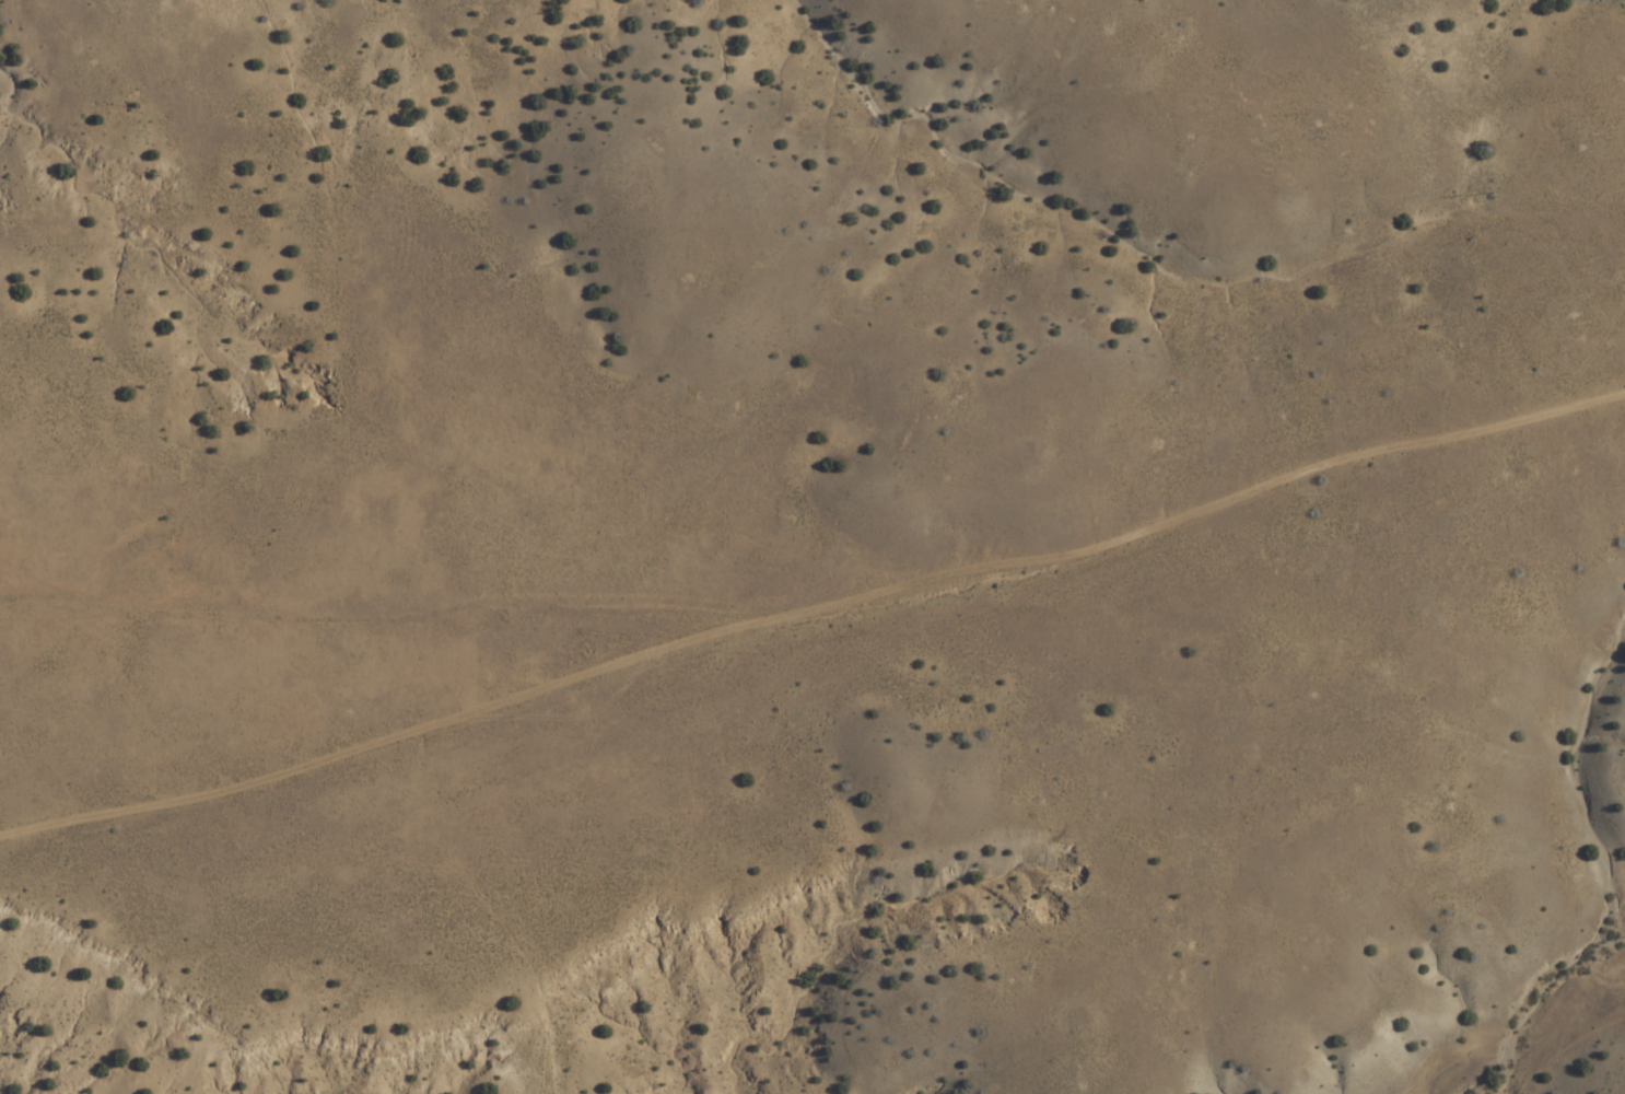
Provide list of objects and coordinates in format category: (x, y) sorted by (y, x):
road: (806, 626)

